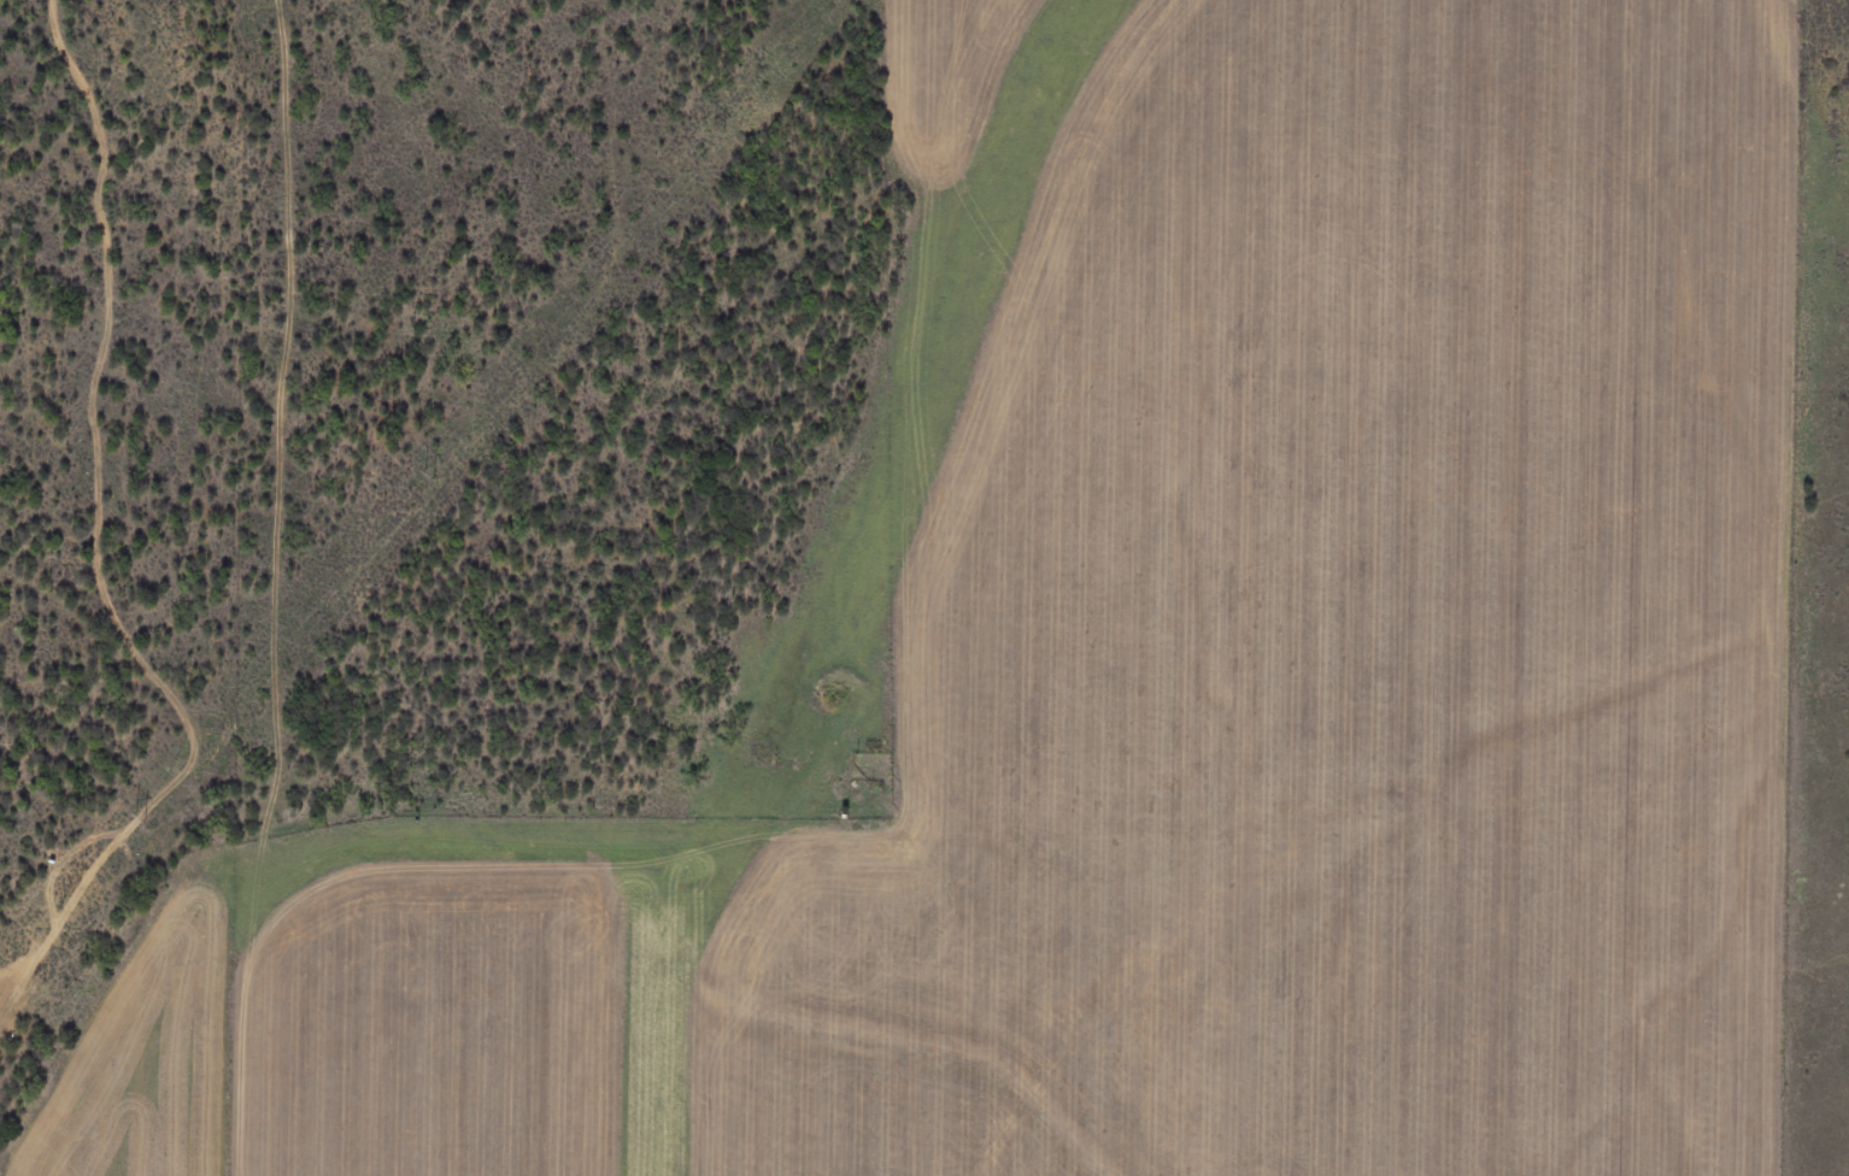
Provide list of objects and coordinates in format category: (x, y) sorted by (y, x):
power tower: (720, 131)
power tower: (429, 476)
road: (1792, 587)
power tower: (140, 819)

